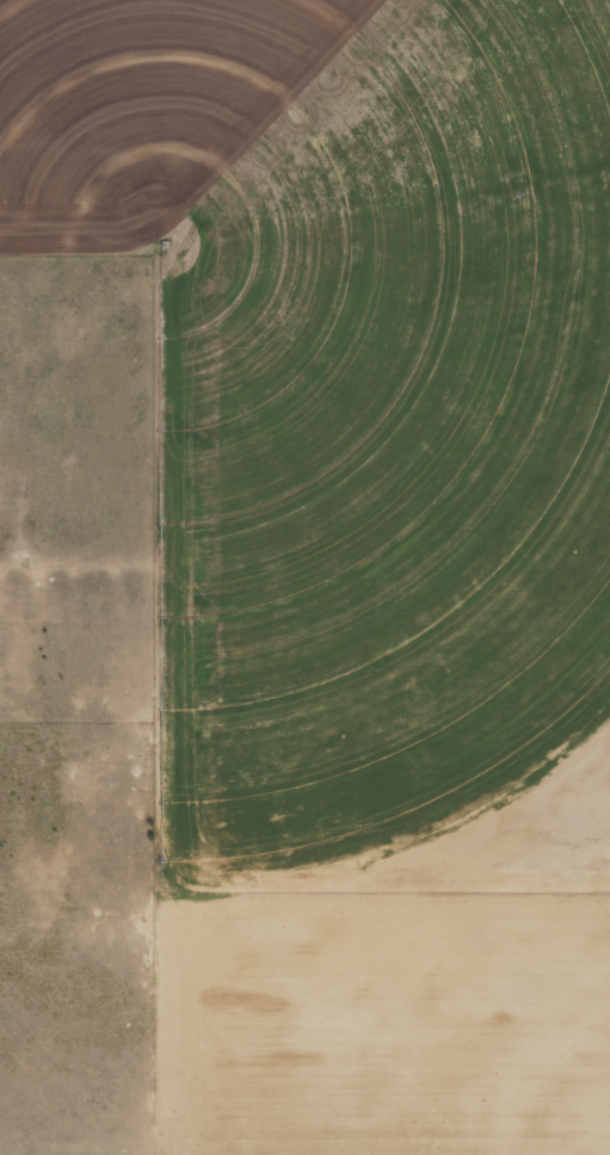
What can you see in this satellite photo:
crop: (350, 396)

